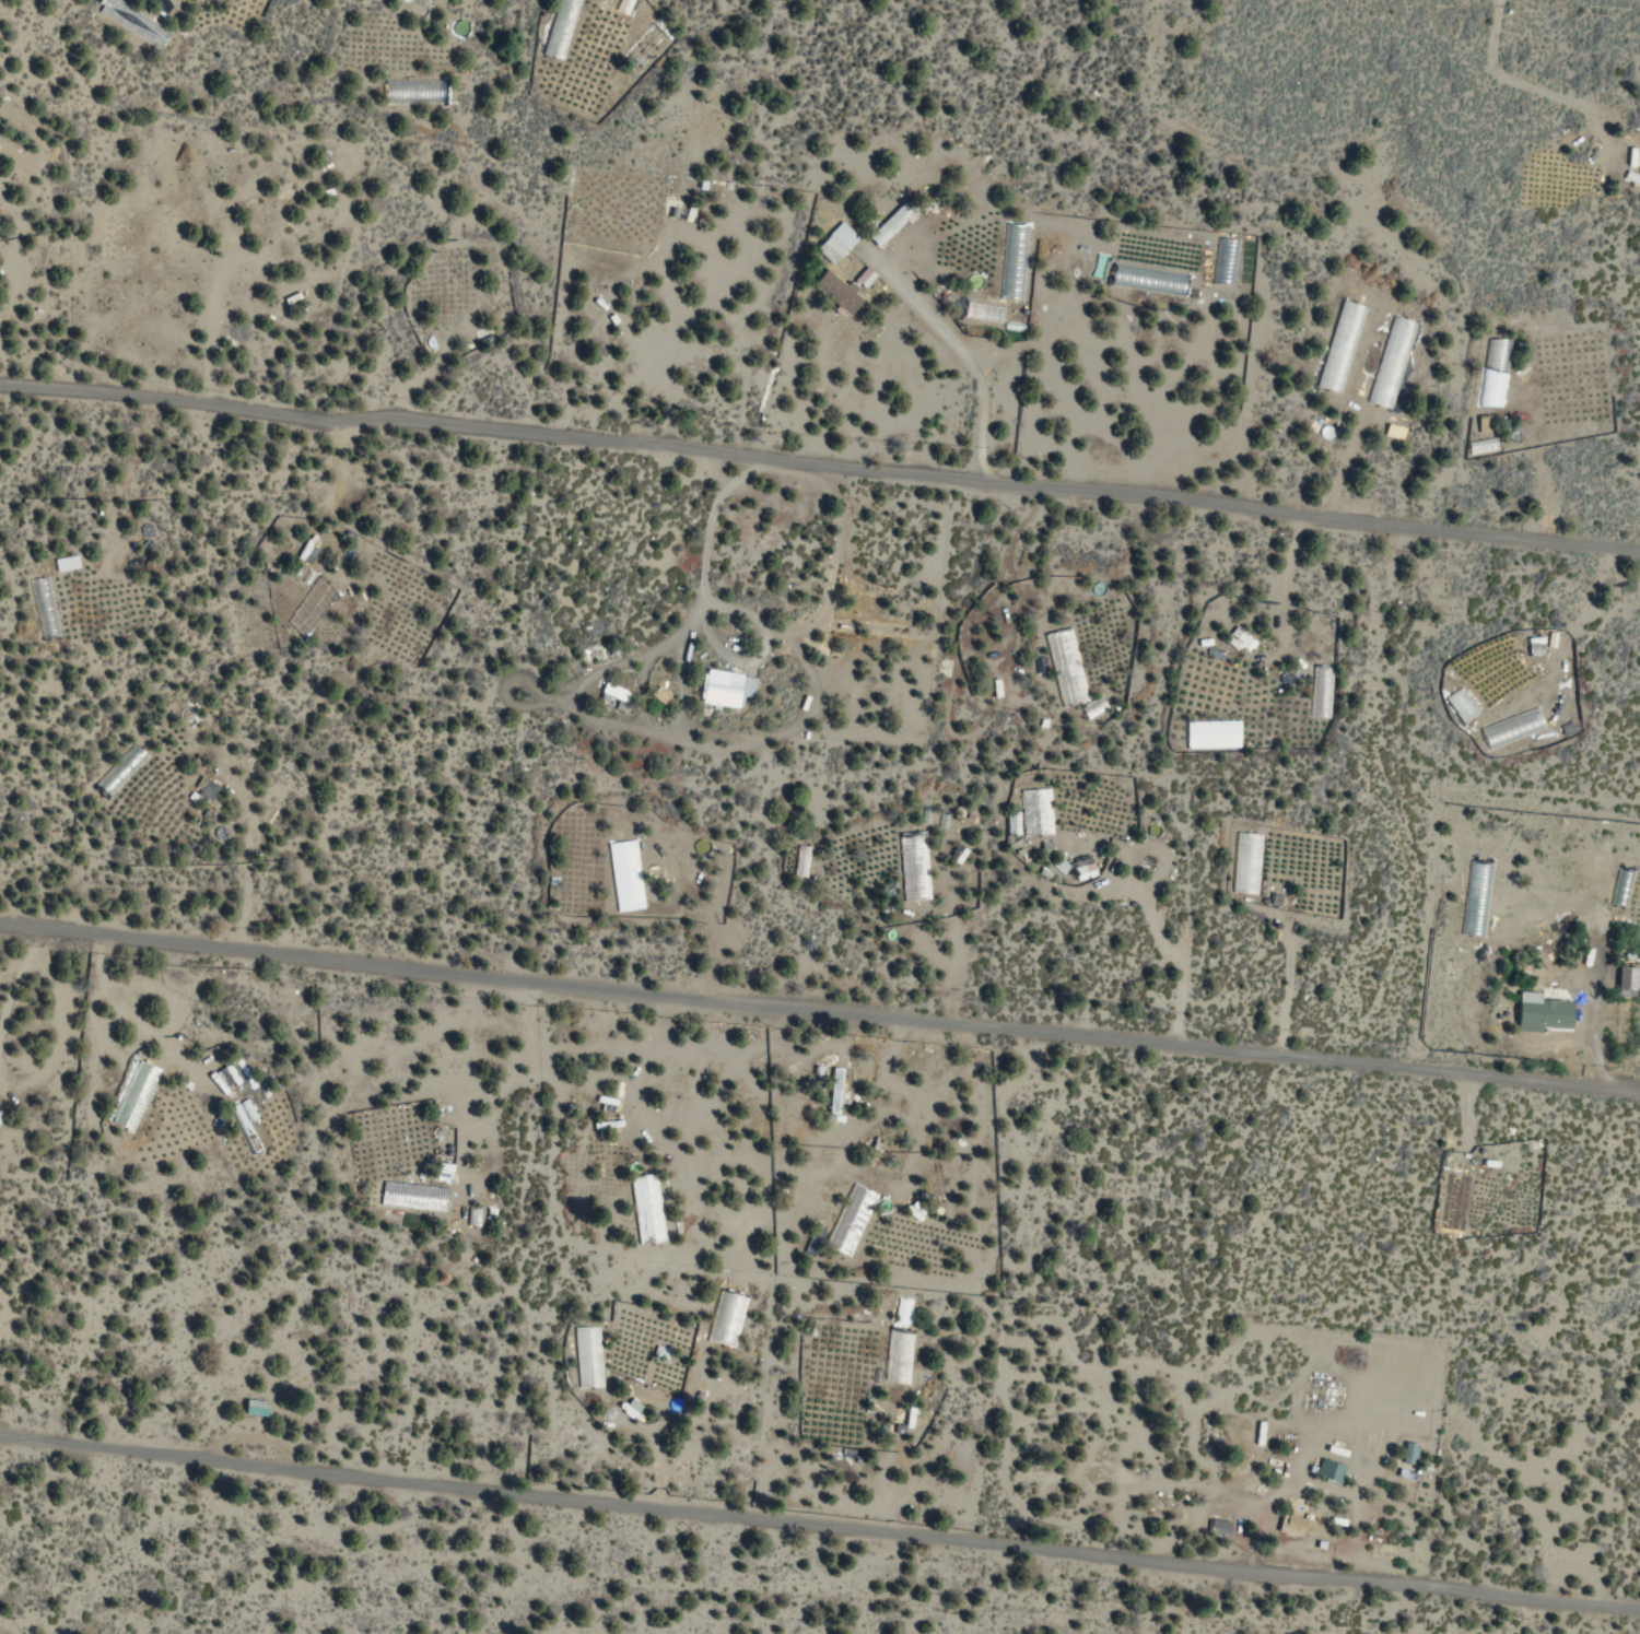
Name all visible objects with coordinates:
building: (127, 20)
building: (20, 117)
building: (15, 156)
building: (890, 223)
building: (833, 243)
building: (862, 278)
building: (834, 292)
road: (820, 461)
building: (309, 606)
building: (724, 689)
building: (612, 691)
building: (657, 693)
building: (1624, 980)
road: (820, 1004)
building: (1538, 1012)
building: (222, 1078)
building: (586, 1356)
building: (251, 1408)
building: (630, 1410)
building: (1406, 1453)
building: (1327, 1471)
road: (819, 1524)
building: (1292, 1524)

